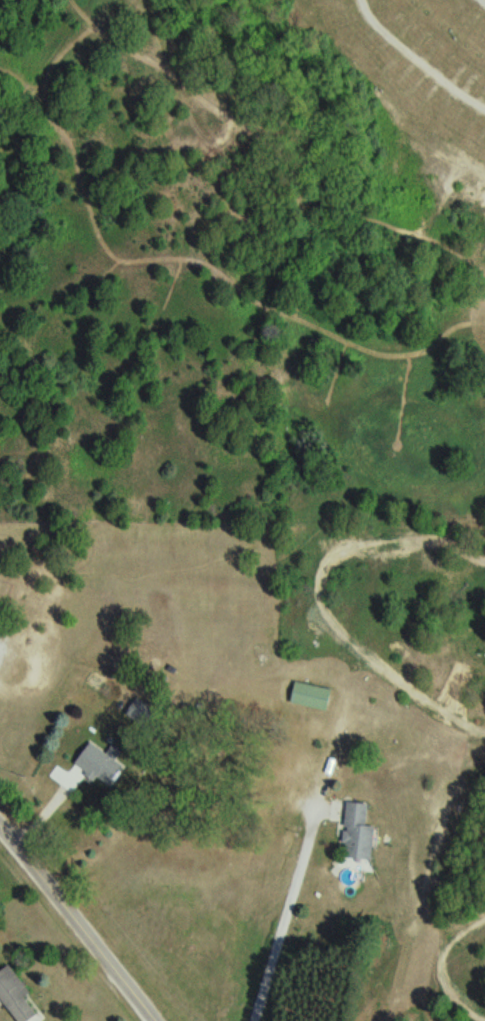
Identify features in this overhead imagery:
park: (241, 249)
building: (314, 695)
building: (361, 832)
road: (78, 922)
building: (19, 995)

